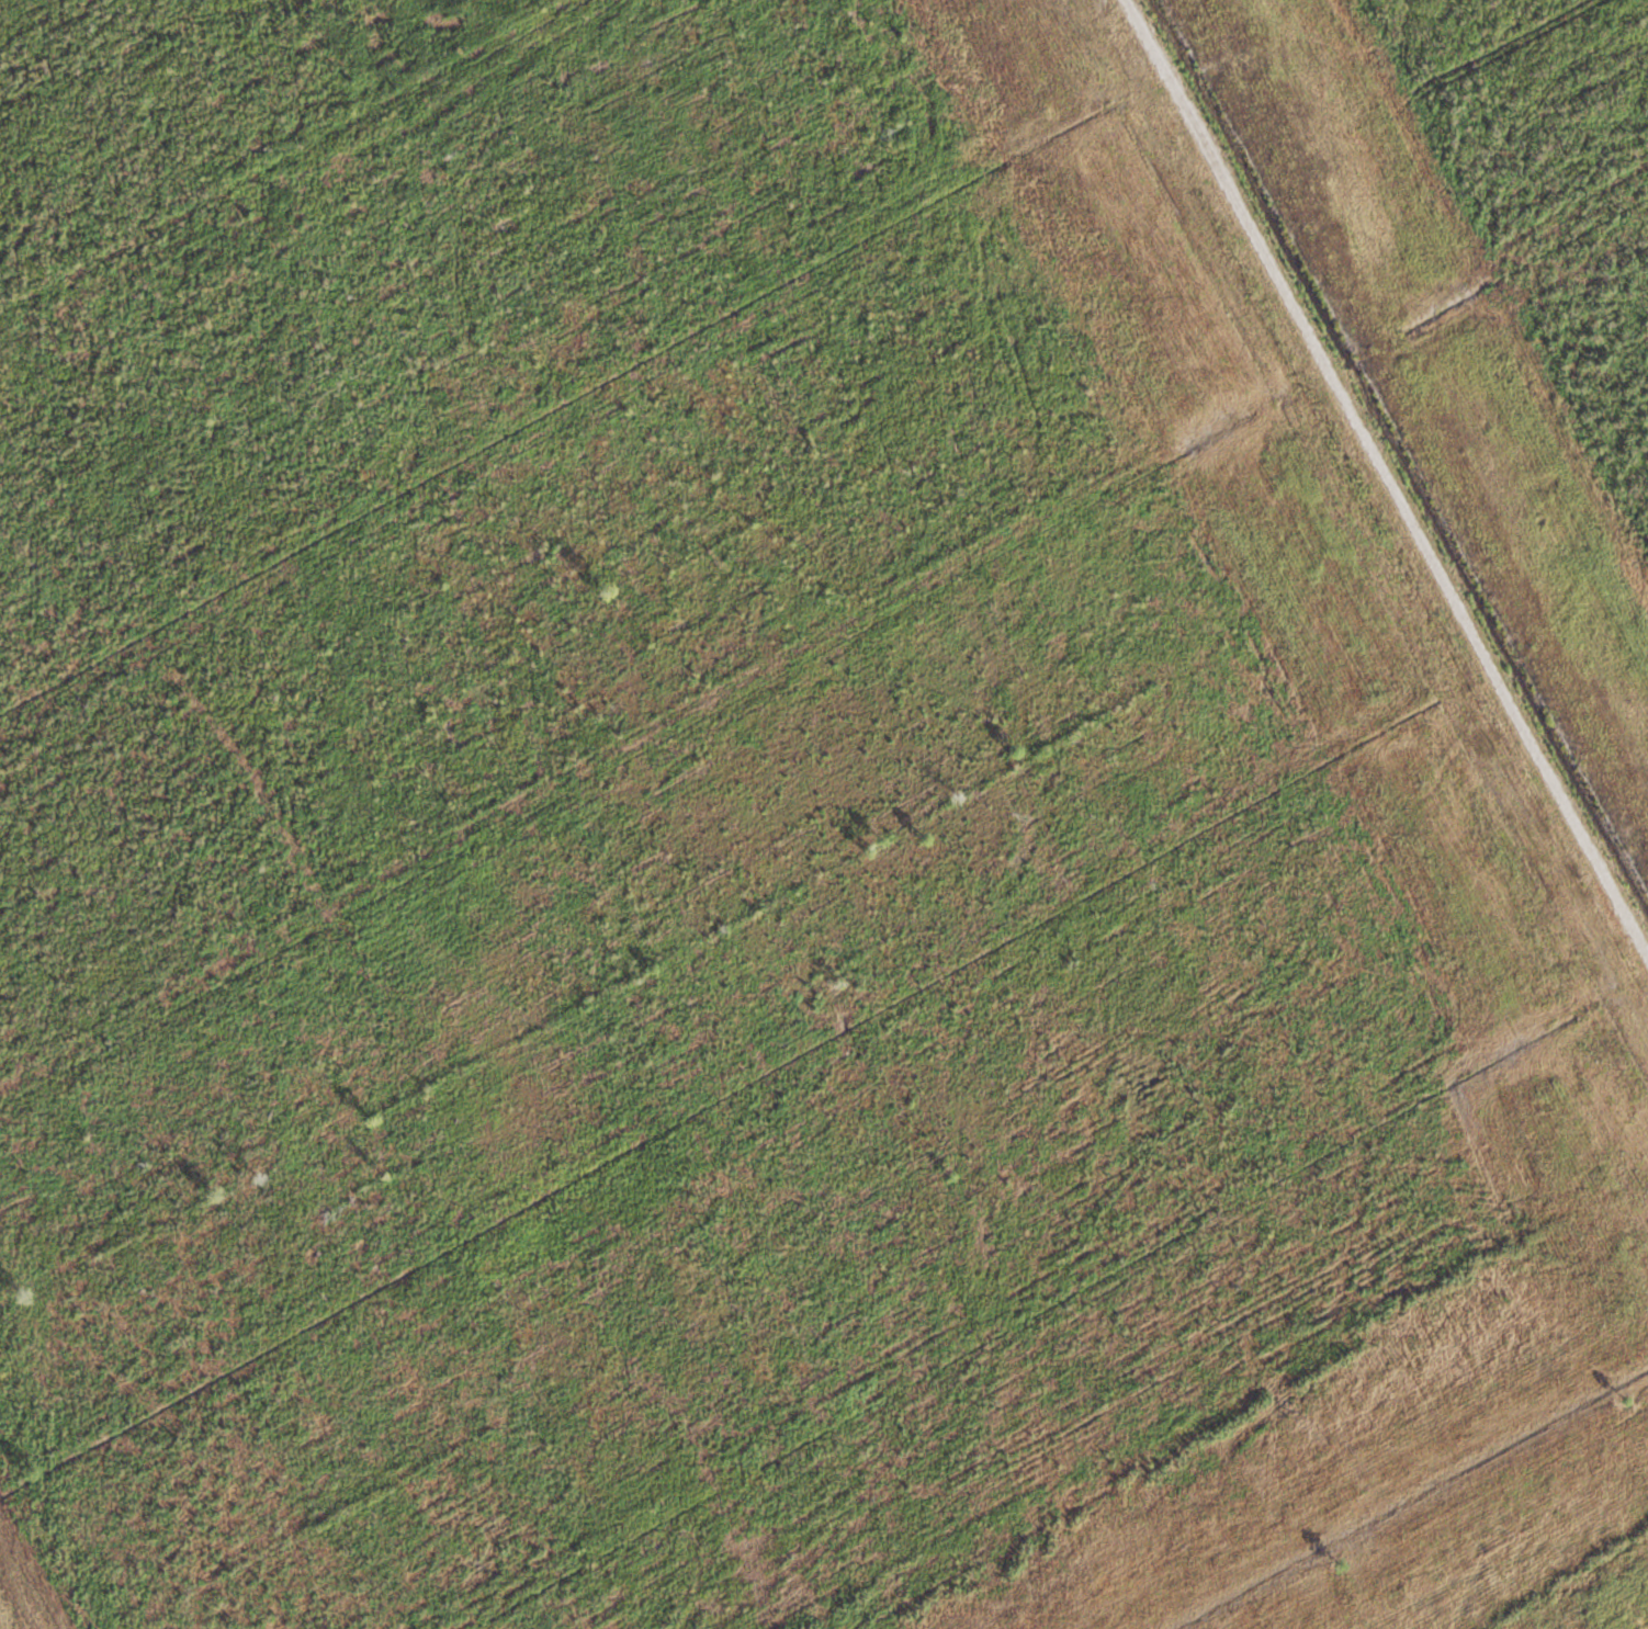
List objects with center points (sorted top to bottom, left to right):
road: (1354, 523)

